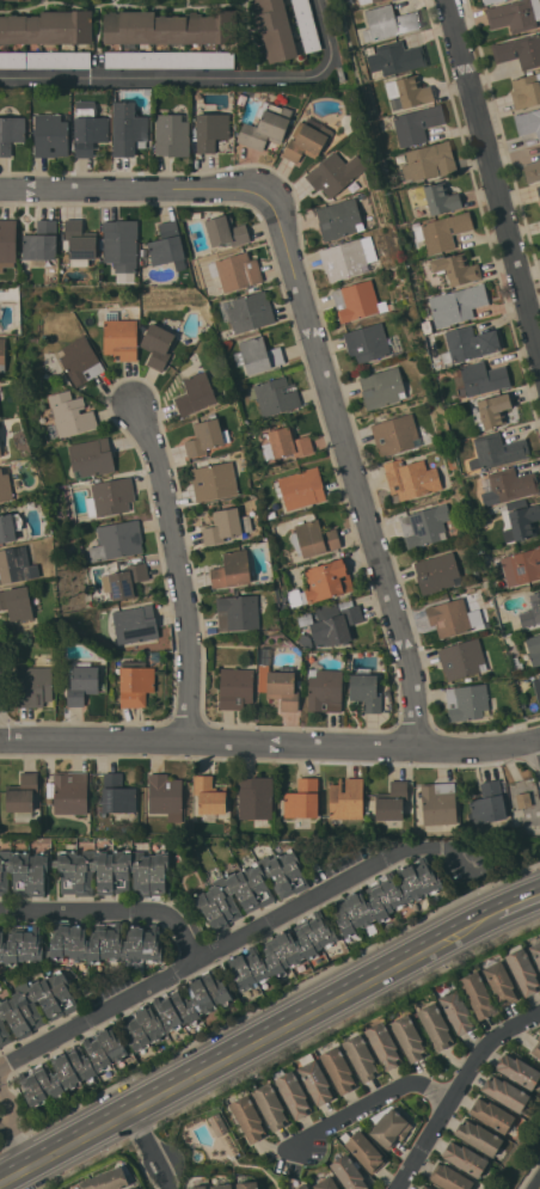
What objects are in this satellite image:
building: (11, 0)
building: (367, 1)
building: (487, 1)
building: (515, 14)
building: (388, 22)
building: (306, 25)
building: (48, 27)
building: (167, 27)
building: (275, 30)
road: (327, 36)
building: (520, 50)
building: (397, 57)
building: (170, 59)
building: (45, 60)
road: (161, 78)
building: (526, 91)
building: (407, 92)
building: (528, 122)
building: (417, 124)
building: (265, 127)
building: (88, 128)
building: (128, 128)
building: (210, 130)
building: (11, 134)
building: (51, 135)
building: (172, 135)
building: (306, 141)
building: (539, 146)
building: (429, 161)
building: (532, 171)
road: (495, 172)
building: (335, 173)
road: (148, 189)
building: (539, 190)
building: (435, 198)
building: (339, 219)
building: (442, 231)
building: (226, 232)
building: (42, 240)
building: (7, 241)
building: (78, 244)
building: (121, 244)
building: (167, 244)
building: (348, 257)
building: (456, 268)
building: (237, 271)
building: (357, 300)
building: (456, 305)
building: (250, 311)
building: (121, 338)
building: (367, 342)
building: (470, 343)
building: (157, 344)
building: (2, 354)
building: (258, 355)
building: (80, 361)
building: (479, 379)
building: (382, 387)
building: (1, 392)
building: (195, 393)
building: (275, 396)
building: (495, 410)
building: (70, 413)
building: (395, 434)
building: (204, 436)
building: (289, 442)
building: (0, 451)
building: (497, 451)
building: (91, 456)
building: (411, 478)
building: (214, 480)
road: (357, 482)
building: (508, 485)
building: (5, 486)
building: (302, 488)
building: (110, 497)
building: (521, 519)
building: (226, 525)
building: (10, 526)
building: (424, 526)
building: (317, 538)
building: (117, 540)
building: (17, 564)
building: (522, 566)
road: (182, 569)
building: (232, 569)
building: (436, 572)
building: (327, 580)
building: (125, 581)
building: (17, 602)
building: (532, 611)
building: (238, 612)
building: (449, 618)
building: (135, 624)
building: (337, 626)
building: (534, 648)
building: (462, 658)
building: (82, 682)
building: (136, 682)
building: (277, 682)
building: (35, 686)
building: (235, 687)
building: (536, 688)
building: (325, 691)
building: (366, 692)
building: (467, 701)
road: (270, 742)
building: (70, 792)
building: (22, 793)
building: (117, 795)
building: (209, 795)
building: (166, 796)
building: (256, 797)
building: (302, 799)
building: (346, 799)
building: (392, 801)
building: (522, 802)
building: (438, 803)
building: (489, 803)
building: (86, 871)
building: (248, 888)
road: (513, 903)
road: (111, 911)
building: (354, 923)
road: (234, 940)
building: (84, 944)
building: (535, 950)
building: (522, 969)
building: (499, 982)
building: (478, 994)
building: (59, 1004)
building: (455, 1009)
building: (176, 1010)
building: (435, 1025)
building: (4, 1034)
building: (409, 1037)
building: (383, 1044)
road: (244, 1048)
building: (536, 1049)
building: (361, 1056)
building: (73, 1067)
building: (338, 1070)
building: (520, 1072)
building: (315, 1081)
road: (458, 1091)
building: (293, 1092)
building: (507, 1095)
road: (369, 1103)
building: (270, 1105)
building: (493, 1115)
building: (248, 1117)
building: (217, 1123)
building: (389, 1126)
road: (17, 1134)
building: (479, 1138)
road: (152, 1148)
building: (364, 1151)
building: (465, 1158)
building: (349, 1173)
building: (450, 1177)
building: (108, 1179)
building: (326, 1183)
building: (247, 1184)
building: (222, 1185)
building: (303, 1185)
building: (197, 1187)
building: (424, 1188)
building: (436, 1188)

